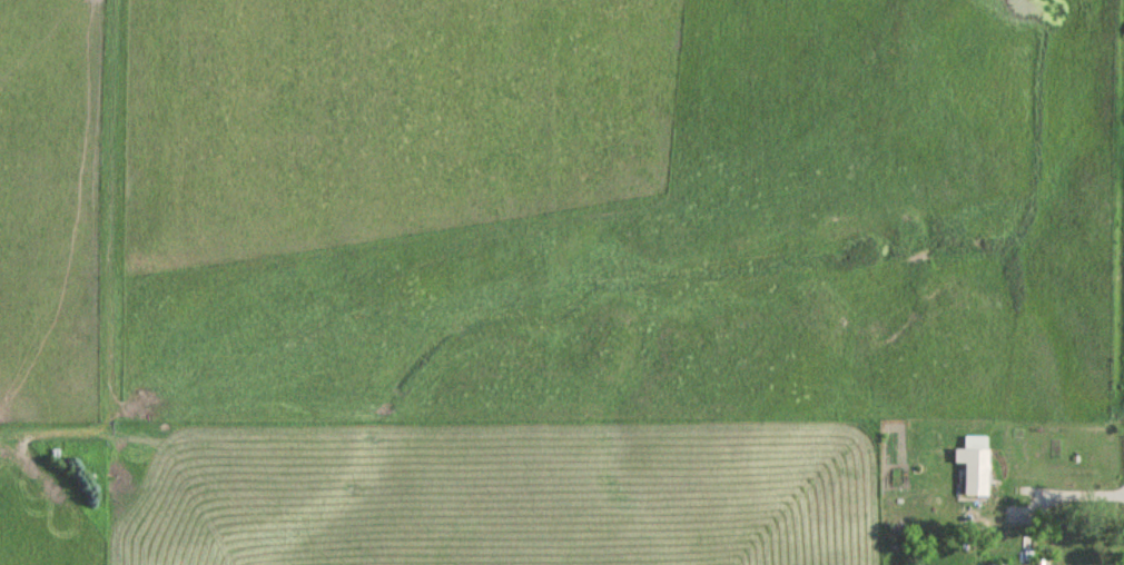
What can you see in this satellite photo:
building: (970, 470)

